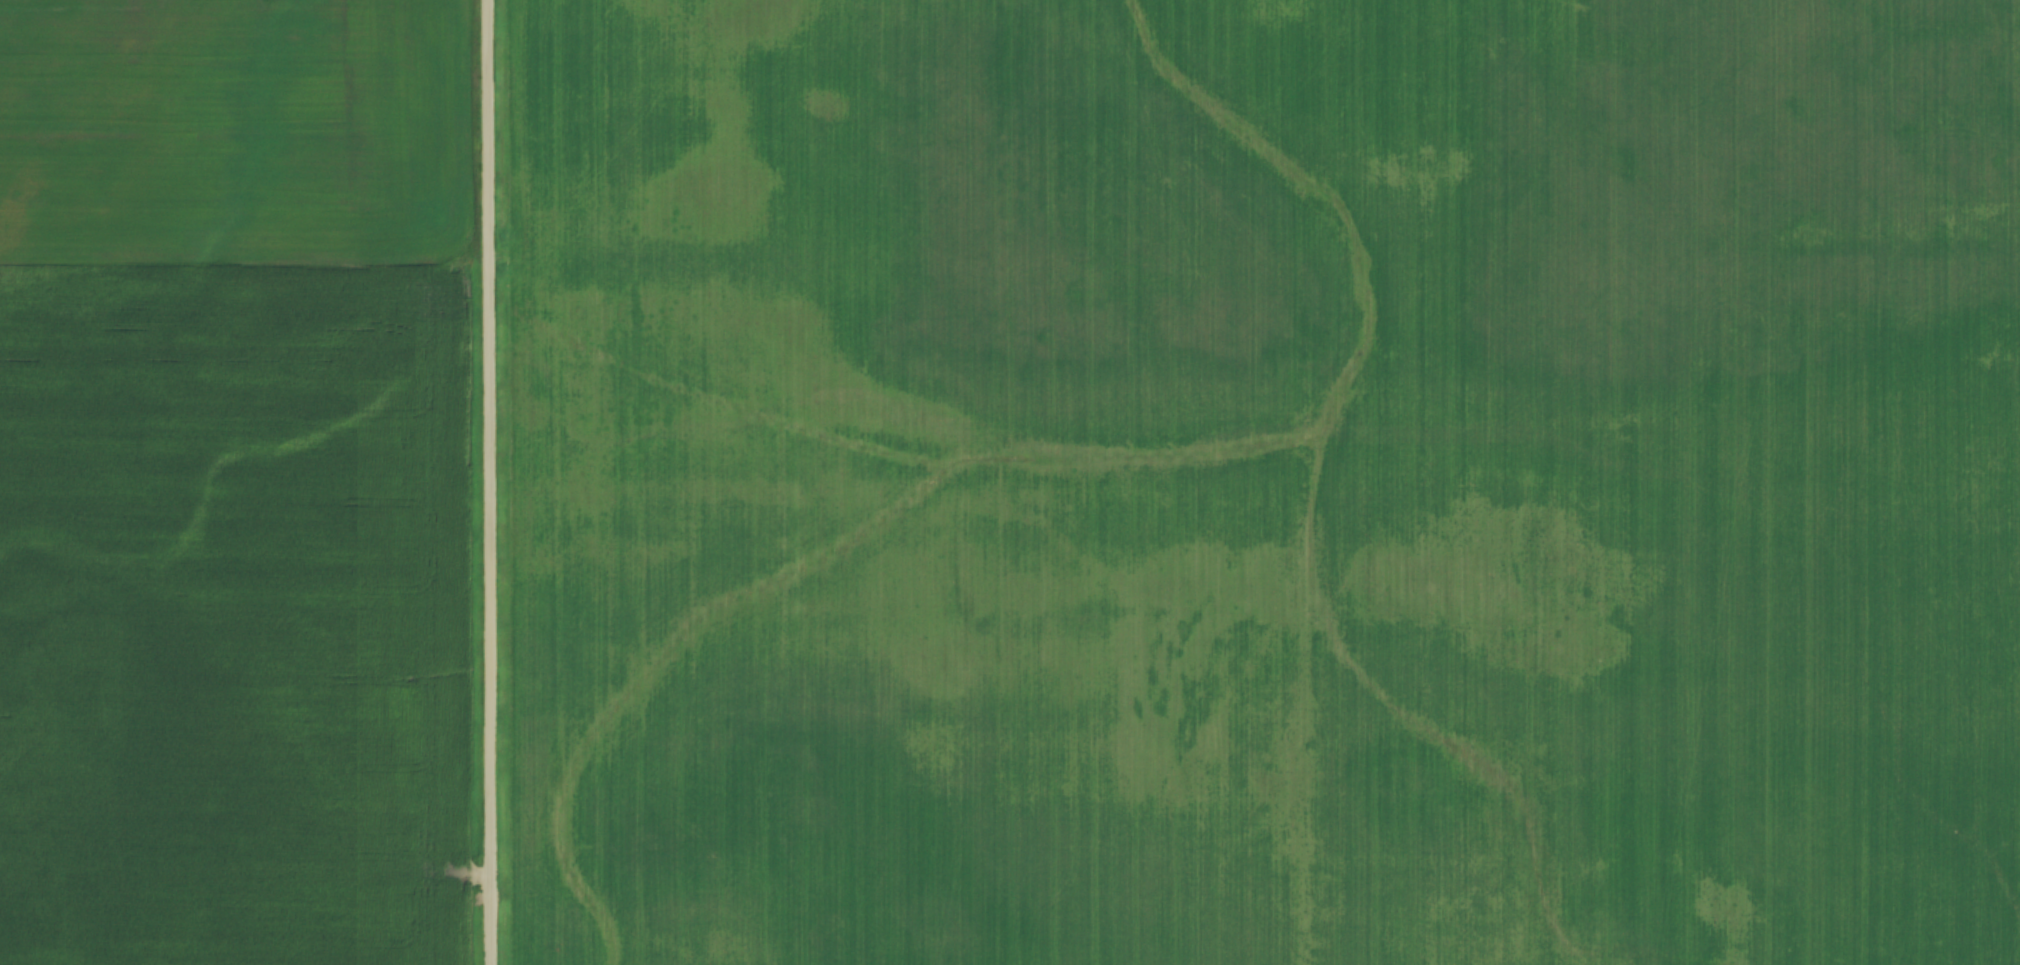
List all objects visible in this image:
road: (492, 482)

